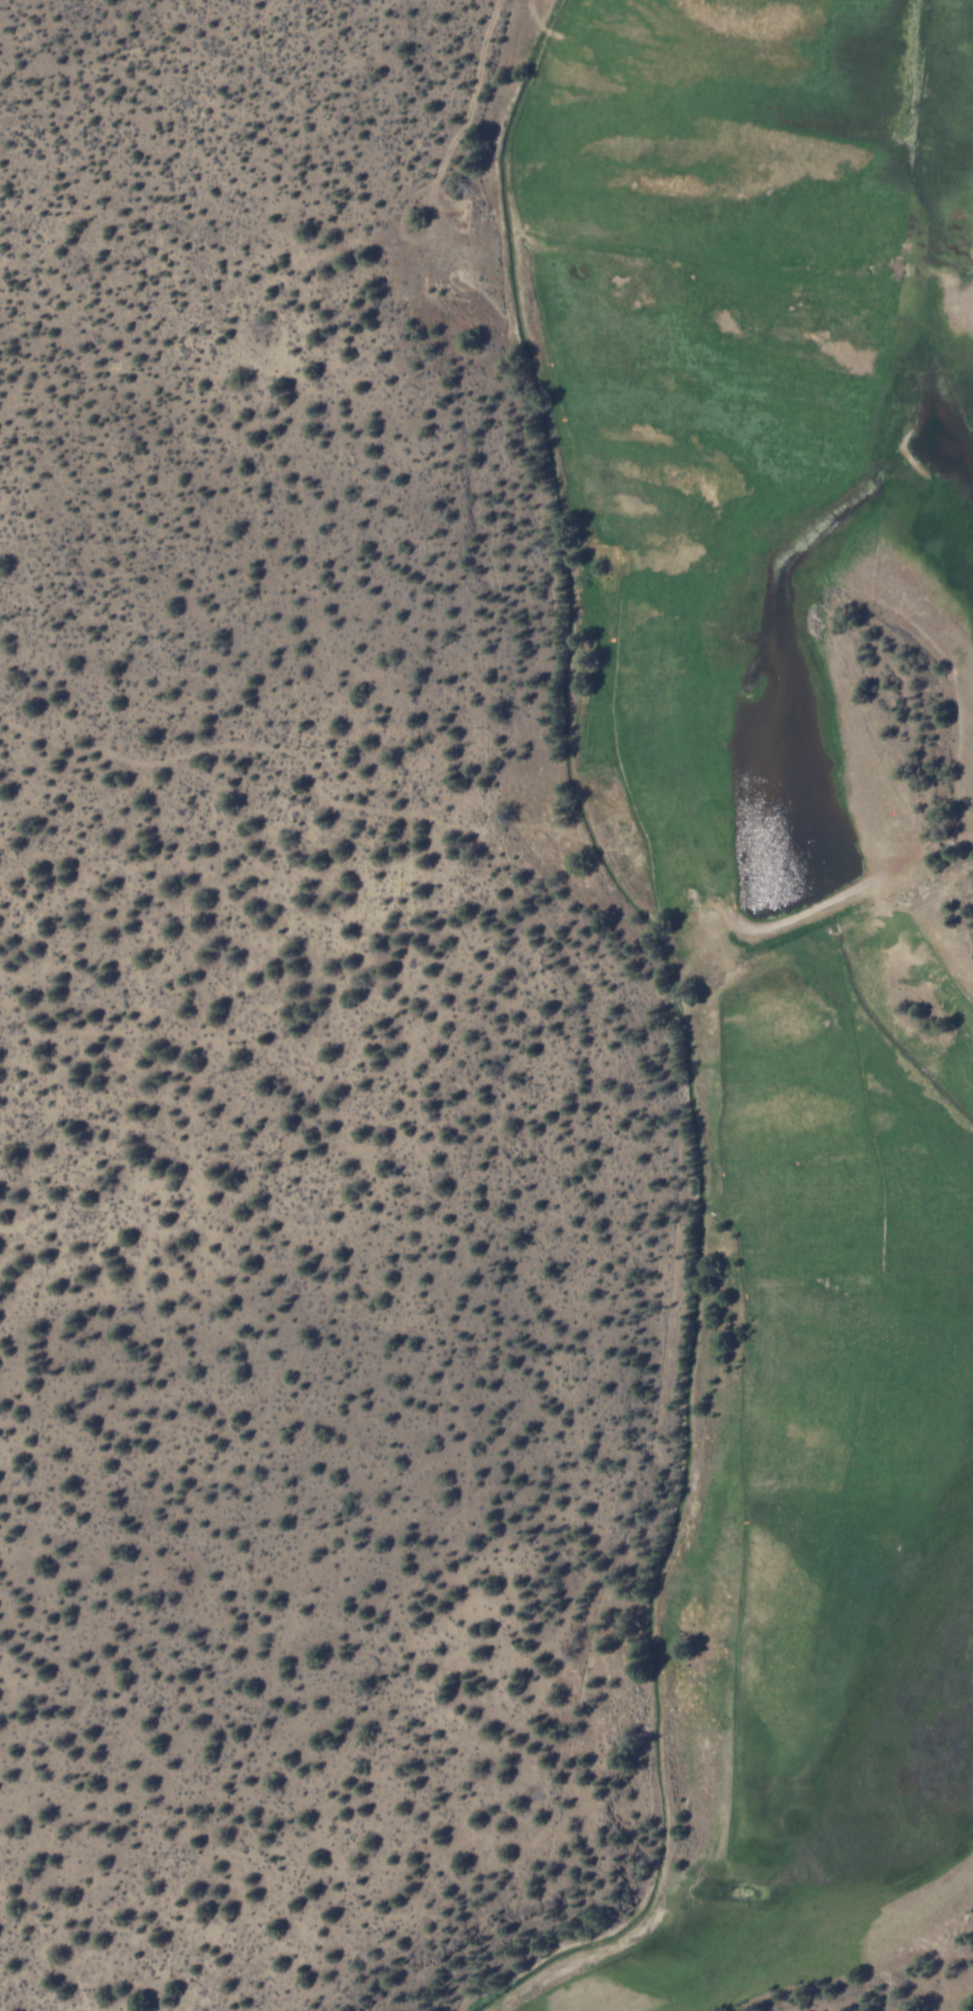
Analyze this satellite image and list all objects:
crop: (770, 901)

